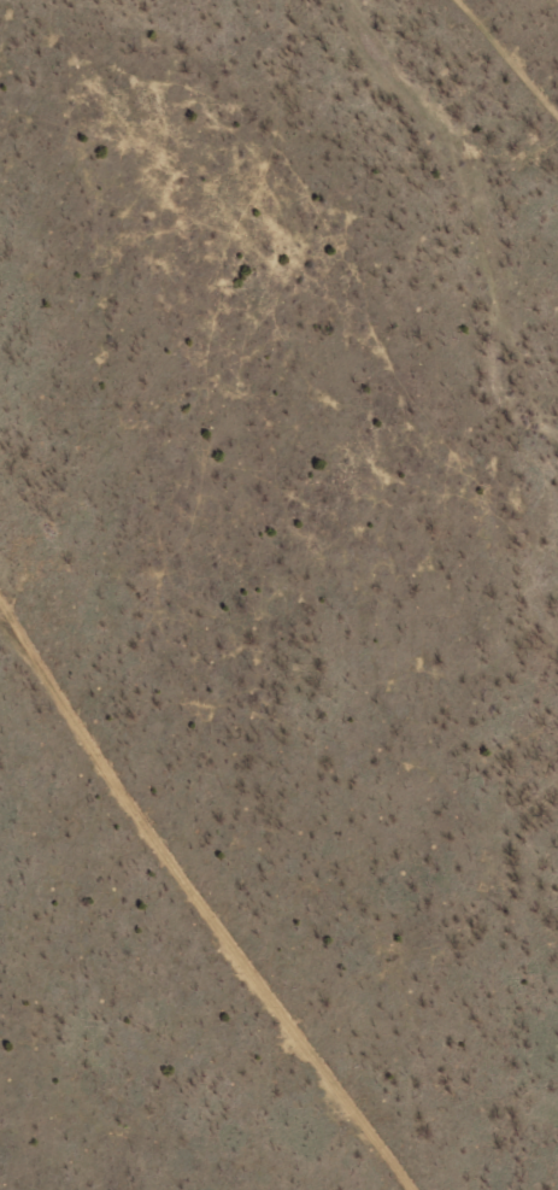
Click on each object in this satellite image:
road: (196, 921)

